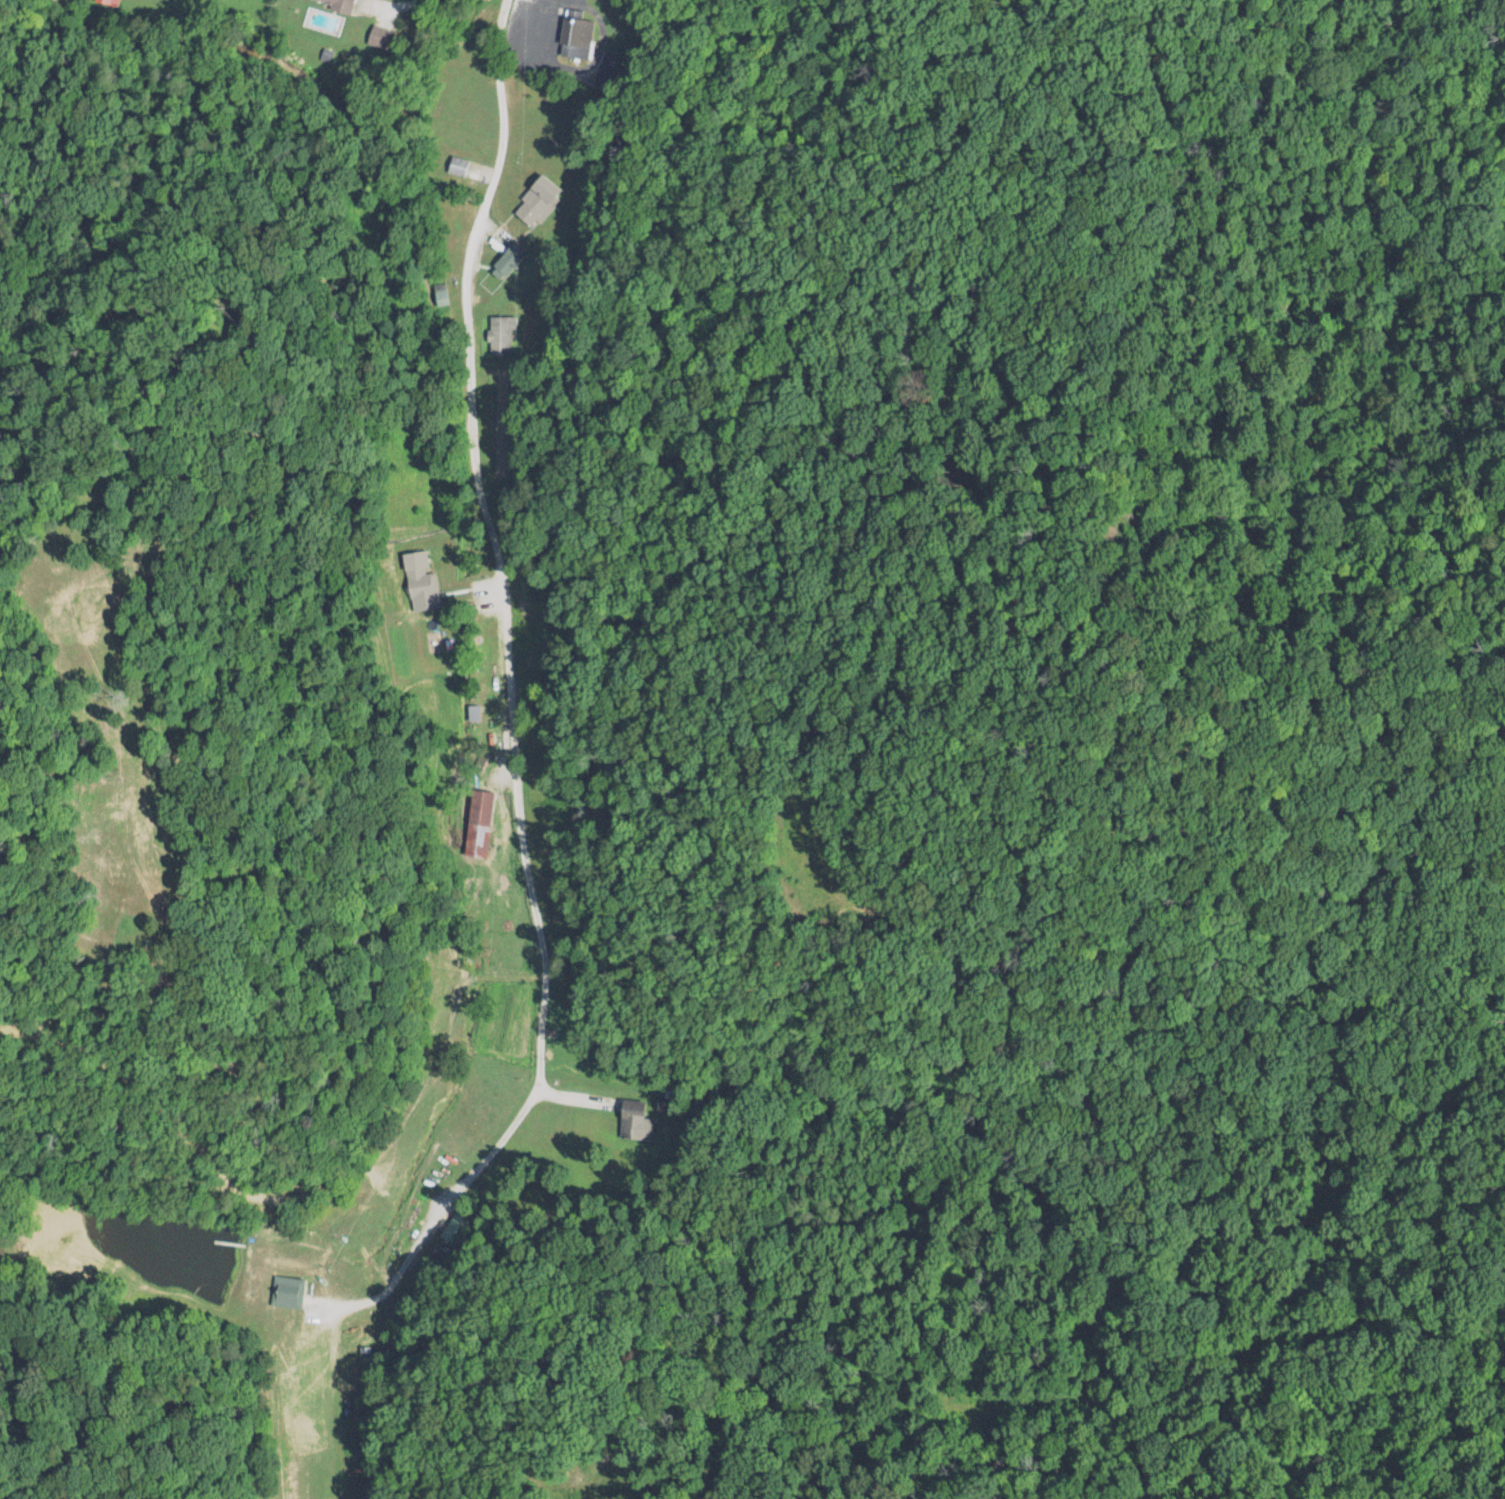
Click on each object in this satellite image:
building: (111, 2)
building: (342, 4)
road: (385, 8)
building: (383, 38)
building: (575, 38)
building: (462, 166)
building: (536, 201)
building: (509, 258)
building: (503, 336)
building: (424, 574)
road: (517, 822)
building: (483, 823)
building: (631, 1120)

